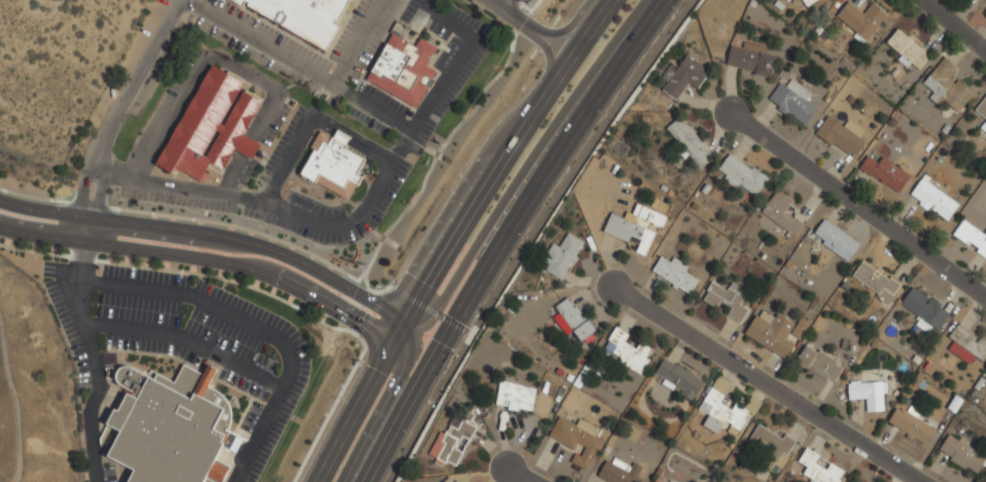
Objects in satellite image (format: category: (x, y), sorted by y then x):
building: (786, 0)
building: (807, 1)
power tower: (528, 3)
road: (503, 4)
parking lot: (161, 5)
building: (985, 10)
parking lot: (409, 11)
building: (301, 16)
road: (512, 17)
parking lot: (188, 18)
building: (861, 18)
parking lot: (466, 19)
road: (954, 26)
parking lot: (349, 30)
parking lot: (438, 30)
parking lot: (268, 35)
road: (571, 36)
parking lot: (372, 41)
street lamp: (489, 41)
road: (356, 43)
parking lot: (454, 43)
street lamp: (640, 43)
street lamp: (494, 45)
building: (908, 50)
parking lot: (256, 57)
building: (750, 59)
parking lot: (442, 62)
road: (229, 64)
road: (548, 64)
road: (296, 65)
building: (403, 70)
building: (682, 76)
parking lot: (462, 77)
street lamp: (345, 81)
road: (132, 82)
building: (947, 86)
parking lot: (382, 100)
building: (793, 101)
parking lot: (163, 106)
building: (982, 108)
parking lot: (356, 114)
street lamp: (284, 123)
road: (310, 123)
parking lot: (273, 125)
building: (212, 126)
building: (983, 126)
parking lot: (426, 131)
building: (840, 137)
building: (689, 142)
parking lot: (282, 144)
street lamp: (265, 158)
building: (333, 165)
parking lot: (246, 172)
building: (885, 172)
building: (742, 175)
street lamp: (551, 183)
parking lot: (392, 186)
road: (80, 192)
road: (98, 194)
street lamp: (283, 198)
building: (934, 199)
parking lot: (176, 200)
street lamp: (59, 205)
road: (858, 206)
parking lot: (314, 207)
building: (781, 212)
building: (649, 215)
road: (354, 218)
building: (629, 232)
road: (462, 235)
road: (496, 236)
building: (971, 236)
road: (213, 237)
building: (836, 239)
road: (477, 242)
building: (561, 256)
road: (207, 258)
power tower: (365, 265)
parking lot: (47, 269)
building: (675, 273)
parking lot: (145, 276)
building: (876, 281)
street lamp: (487, 285)
building: (727, 299)
street lamp: (94, 304)
parking lot: (136, 310)
building: (925, 310)
street lamp: (183, 316)
building: (573, 320)
street lamp: (471, 324)
traffic signals: (410, 325)
road: (253, 328)
building: (771, 332)
parking lot: (68, 334)
traffic signals: (439, 336)
road: (465, 338)
parking lot: (228, 339)
road: (185, 340)
traffic signals: (400, 344)
building: (967, 344)
parking lot: (152, 348)
road: (90, 350)
building: (627, 351)
traffic signals: (426, 360)
street lamp: (278, 362)
building: (820, 363)
parking lot: (299, 382)
parking lot: (242, 384)
road: (765, 385)
building: (869, 393)
building: (515, 396)
road: (383, 405)
street lamp: (78, 411)
building: (721, 411)
parking lot: (250, 417)
building: (911, 424)
building: (169, 425)
building: (577, 439)
building: (452, 441)
building: (770, 442)
building: (962, 454)
building: (818, 469)
building: (618, 471)
building: (218, 472)
parking lot: (108, 473)
road: (518, 475)
building: (448, 480)
building: (657, 480)
street lamp: (259, 481)
building: (853, 481)

